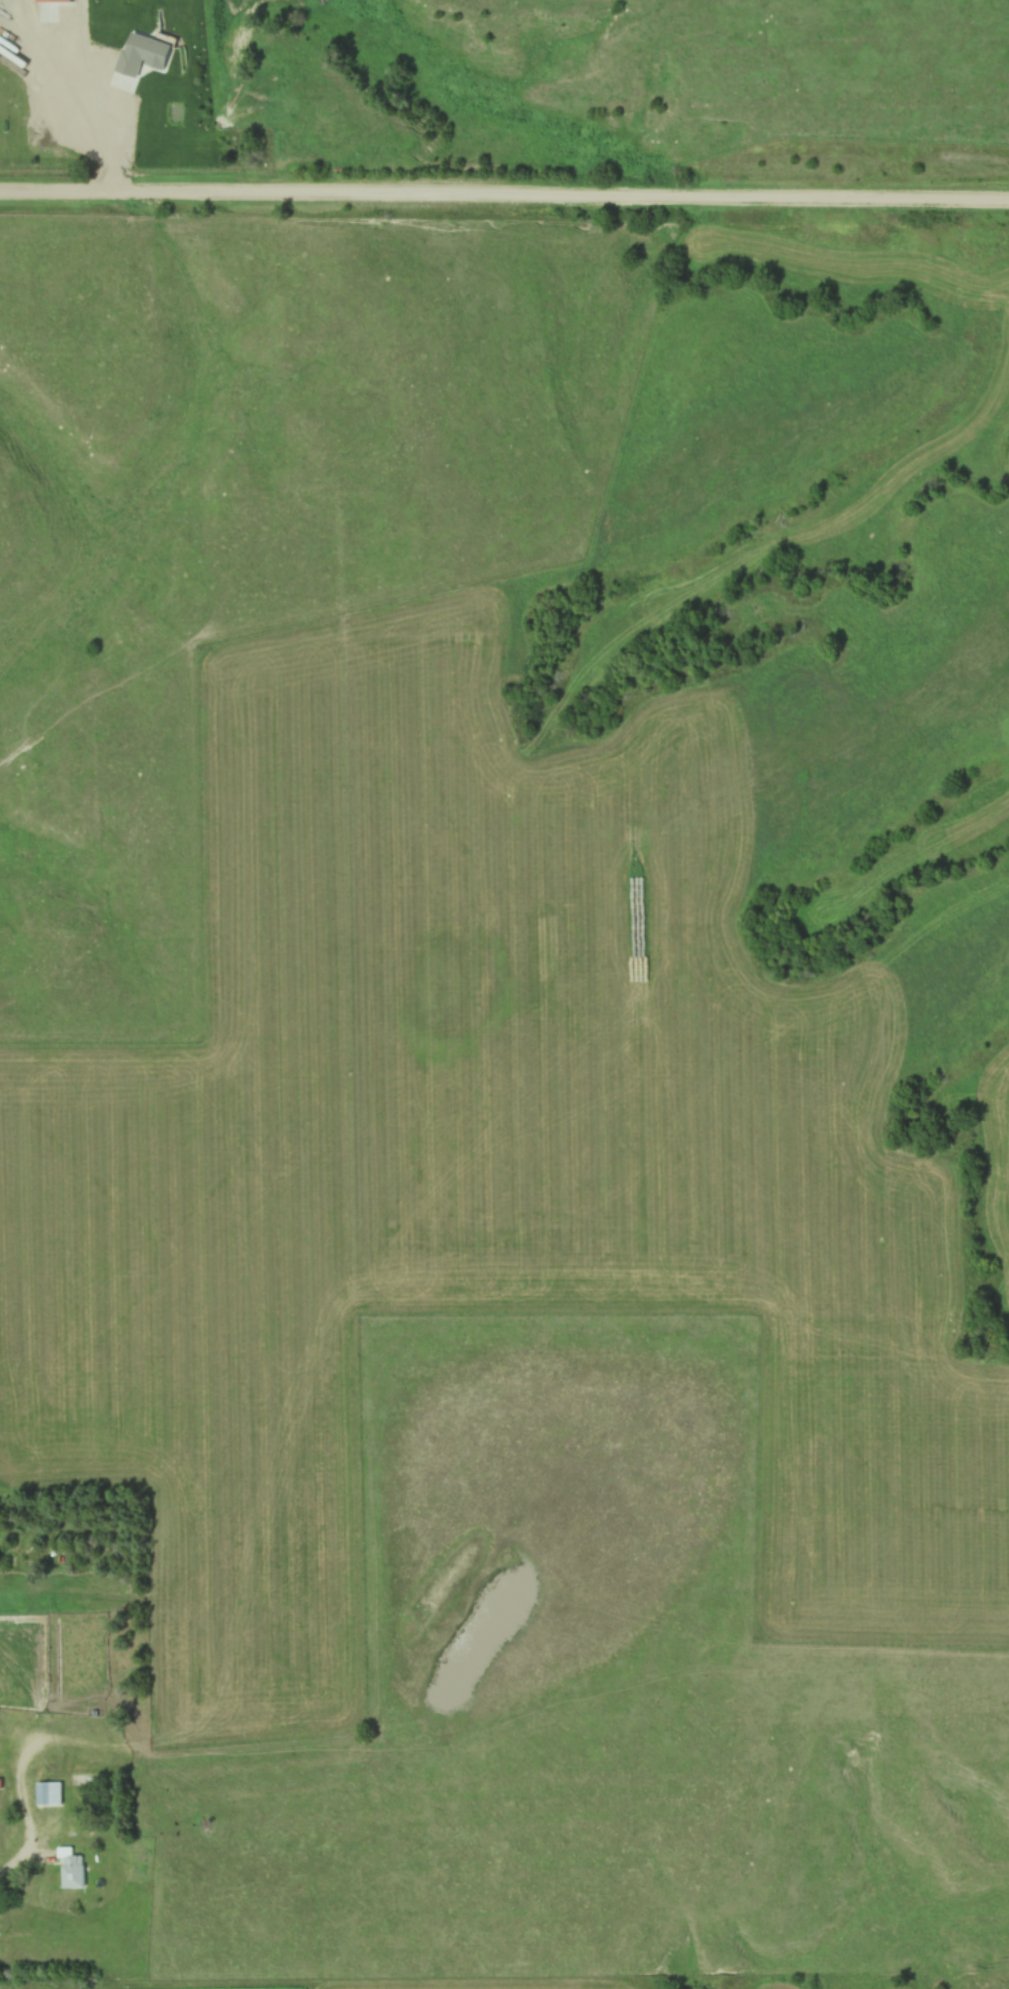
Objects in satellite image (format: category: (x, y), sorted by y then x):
building: (170, 104)
road: (504, 198)
building: (105, 1479)
building: (95, 1708)
building: (48, 1794)
road: (19, 1860)
building: (70, 1869)

